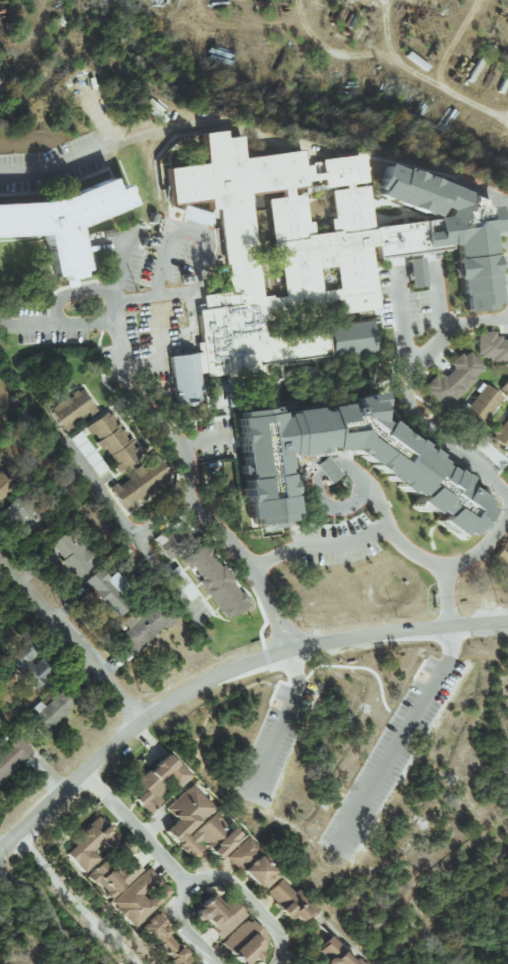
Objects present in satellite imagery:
road: (395, 54)
building: (339, 169)
road: (53, 170)
building: (231, 197)
building: (344, 207)
building: (283, 215)
building: (192, 216)
road: (183, 220)
building: (62, 221)
road: (502, 244)
road: (413, 271)
building: (412, 272)
building: (325, 273)
road: (435, 300)
road: (400, 320)
road: (56, 324)
building: (347, 338)
road: (439, 339)
building: (491, 346)
road: (119, 356)
building: (451, 379)
building: (504, 387)
building: (480, 405)
building: (73, 409)
building: (501, 433)
building: (112, 440)
road: (455, 452)
building: (87, 453)
building: (398, 462)
building: (324, 469)
building: (140, 481)
road: (99, 486)
building: (2, 487)
road: (319, 498)
road: (377, 502)
building: (21, 510)
road: (214, 527)
road: (353, 537)
building: (169, 540)
road: (142, 549)
building: (72, 554)
building: (502, 554)
road: (453, 563)
building: (505, 576)
building: (213, 581)
building: (181, 582)
building: (107, 590)
building: (142, 626)
road: (72, 639)
building: (29, 666)
road: (226, 672)
building: (51, 711)
road: (284, 721)
road: (404, 736)
building: (12, 754)
building: (156, 781)
building: (185, 812)
road: (135, 828)
building: (208, 837)
building: (88, 844)
building: (250, 863)
building: (111, 876)
building: (138, 897)
road: (248, 901)
building: (288, 901)
road: (75, 902)
building: (217, 914)
road: (51, 916)
road: (185, 929)
building: (163, 941)
building: (243, 941)
building: (331, 953)
building: (309, 963)

